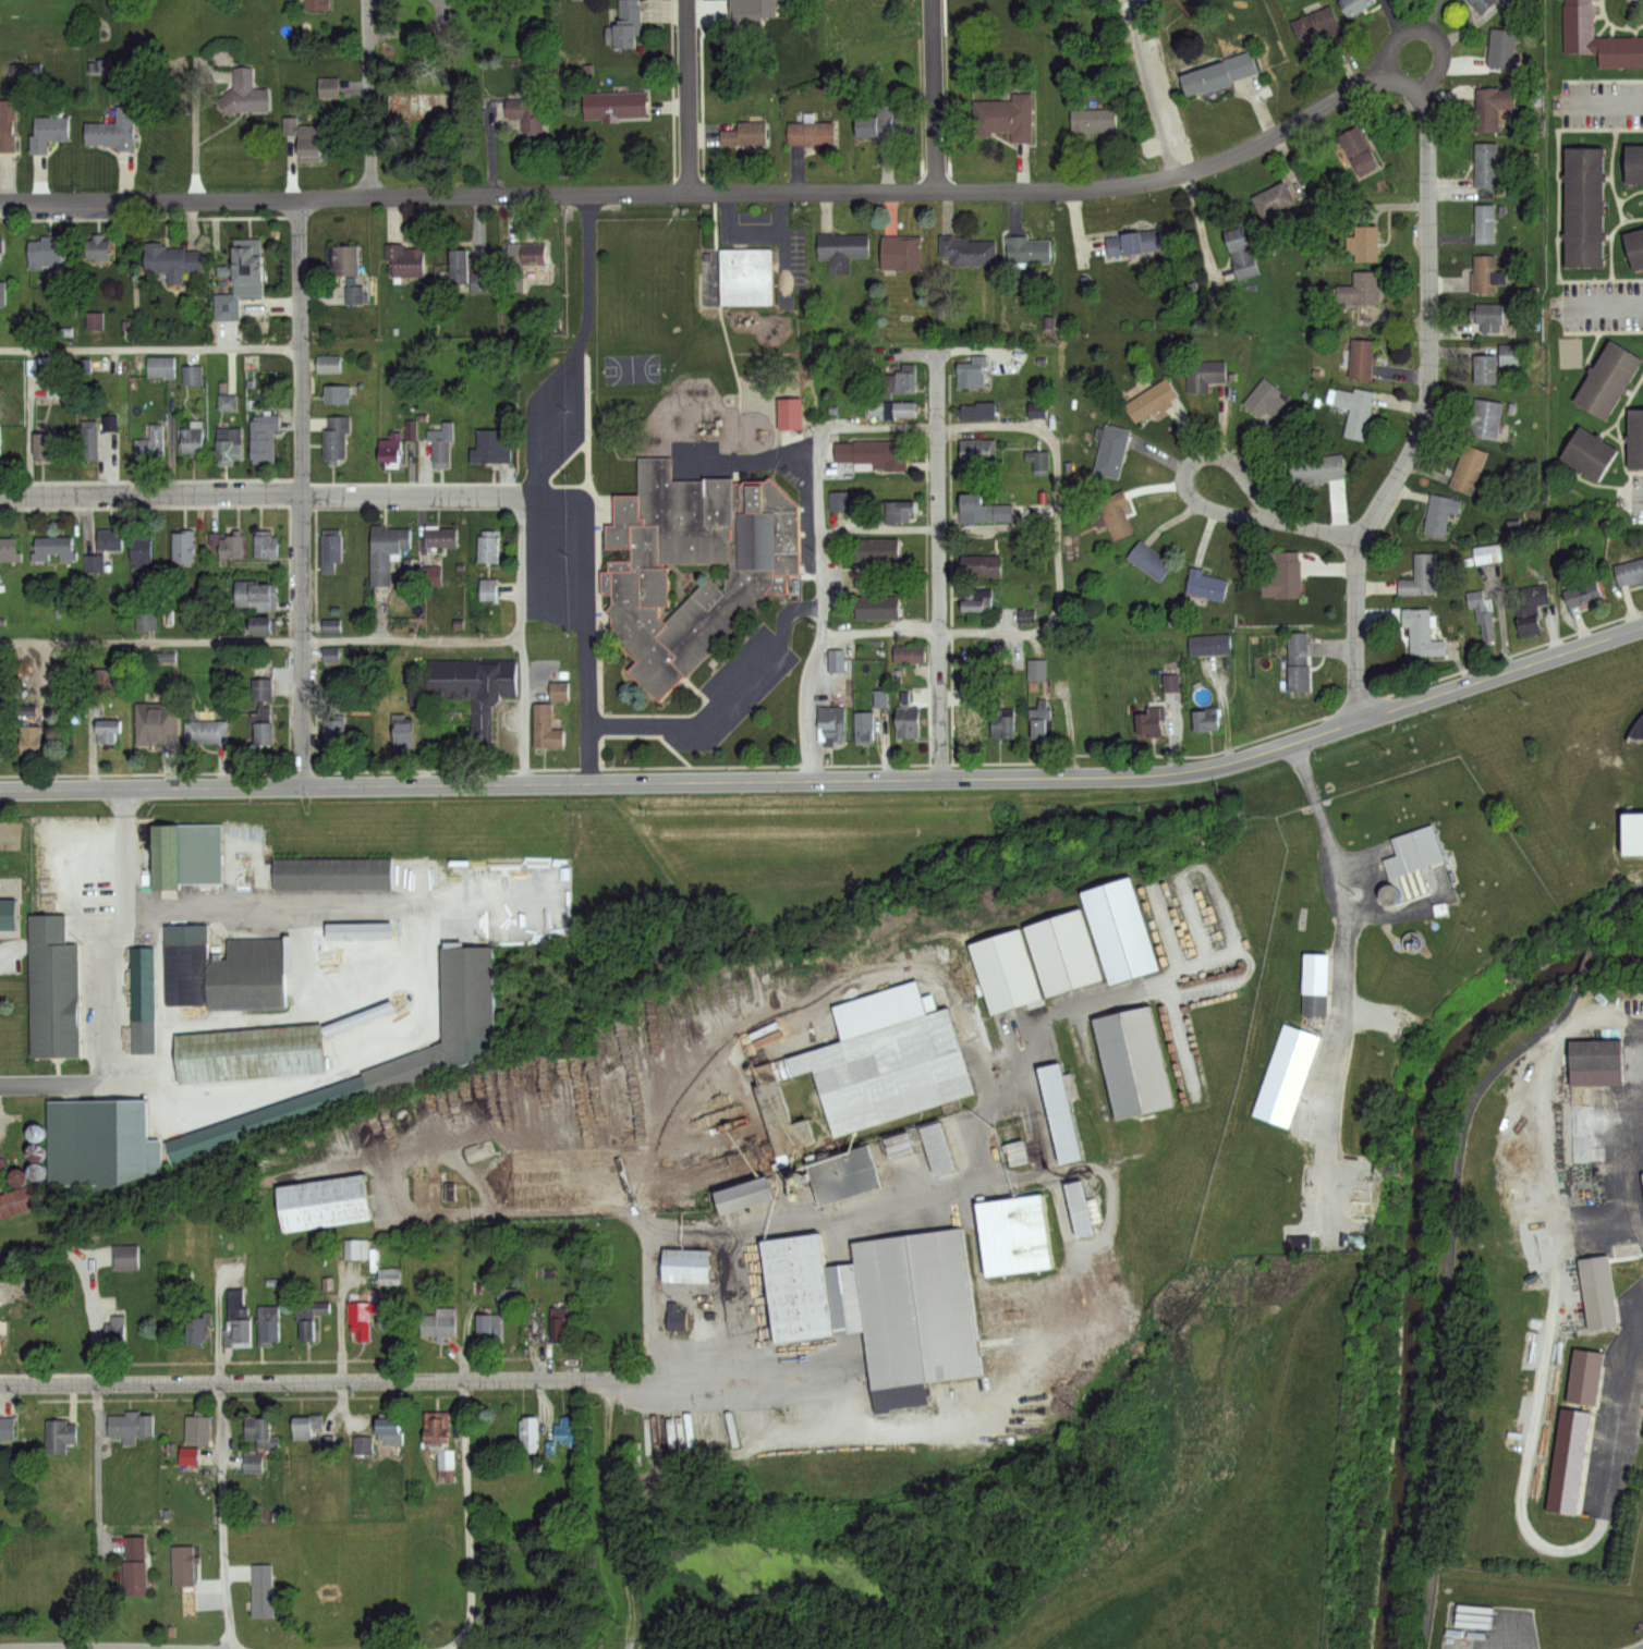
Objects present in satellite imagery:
building: (1483, 4)
building: (1355, 5)
building: (316, 7)
building: (752, 12)
road: (1629, 14)
building: (1317, 23)
building: (623, 24)
road: (1614, 25)
building: (1597, 38)
building: (1501, 47)
building: (1217, 74)
road: (1603, 80)
road: (1410, 85)
building: (326, 87)
building: (242, 93)
road: (933, 95)
road: (687, 96)
road: (369, 98)
building: (617, 103)
parking lot: (1603, 105)
road: (1607, 105)
building: (422, 106)
building: (1492, 106)
building: (530, 112)
building: (1007, 118)
building: (878, 122)
building: (1092, 122)
building: (7, 127)
building: (109, 129)
building: (810, 132)
building: (46, 133)
building: (745, 133)
building: (308, 142)
building: (1358, 150)
building: (1485, 163)
building: (1632, 166)
road: (1610, 176)
road: (708, 191)
road: (1629, 195)
building: (1271, 199)
road: (1558, 203)
building: (1581, 208)
building: (1484, 223)
road: (1610, 236)
building: (1133, 242)
building: (1364, 243)
building: (1, 244)
building: (97, 248)
building: (1026, 248)
building: (841, 249)
building: (1633, 249)
building: (969, 251)
building: (45, 252)
building: (1240, 252)
building: (900, 253)
building: (404, 258)
building: (341, 259)
building: (172, 260)
building: (523, 260)
building: (243, 267)
building: (1486, 272)
building: (470, 273)
building: (744, 279)
building: (1361, 289)
building: (2, 293)
building: (352, 294)
parking lot: (1603, 305)
road: (1607, 306)
building: (1487, 317)
building: (226, 330)
road: (1604, 331)
road: (151, 349)
road: (951, 351)
building: (1507, 354)
building: (1361, 358)
building: (328, 364)
building: (160, 366)
building: (1485, 368)
building: (972, 371)
building: (1204, 374)
building: (190, 375)
building: (904, 379)
building: (1604, 382)
building: (334, 393)
building: (1152, 400)
building: (1265, 400)
building: (903, 408)
building: (1034, 410)
building: (978, 411)
building: (1354, 411)
road: (1426, 411)
building: (790, 412)
building: (1485, 417)
building: (108, 422)
road: (972, 426)
road: (1617, 429)
building: (263, 438)
building: (334, 438)
building: (87, 439)
building: (190, 440)
building: (1634, 441)
building: (44, 442)
building: (229, 442)
building: (149, 445)
building: (439, 445)
building: (489, 448)
building: (1110, 450)
building: (390, 451)
building: (978, 452)
building: (874, 454)
building: (1585, 454)
road: (1200, 456)
building: (1038, 460)
building: (1468, 468)
building: (1316, 469)
road: (301, 492)
road: (273, 497)
parking lot: (1638, 498)
road: (547, 501)
building: (843, 501)
building: (896, 509)
building: (983, 509)
building: (1115, 514)
building: (1439, 514)
road: (937, 528)
road: (1315, 530)
building: (441, 536)
building: (108, 539)
building: (230, 545)
building: (264, 546)
building: (181, 548)
building: (8, 549)
building: (53, 549)
building: (139, 549)
building: (876, 549)
building: (386, 550)
building: (488, 550)
building: (330, 551)
building: (1487, 553)
building: (1147, 559)
building: (92, 562)
parking lot: (550, 564)
road: (939, 565)
building: (990, 566)
road: (548, 569)
building: (691, 569)
building: (1629, 572)
building: (428, 575)
building: (1281, 577)
building: (1419, 577)
building: (1206, 585)
building: (486, 589)
building: (1583, 593)
building: (256, 595)
building: (1534, 596)
building: (976, 603)
building: (877, 608)
building: (1483, 613)
road: (579, 615)
building: (1011, 619)
building: (144, 620)
road: (586, 622)
building: (256, 624)
building: (1529, 624)
building: (1422, 632)
road: (522, 638)
road: (260, 642)
building: (1210, 644)
building: (327, 654)
building: (910, 654)
building: (1298, 661)
building: (1036, 671)
building: (99, 679)
parking lot: (743, 682)
building: (1170, 682)
building: (261, 689)
building: (557, 691)
building: (467, 692)
building: (879, 698)
road: (722, 699)
building: (1040, 720)
building: (831, 721)
building: (906, 721)
building: (1205, 721)
building: (1636, 722)
building: (1146, 723)
building: (155, 724)
building: (261, 725)
building: (1002, 725)
building: (863, 728)
building: (973, 729)
building: (108, 730)
building: (546, 730)
building: (205, 732)
building: (332, 732)
building: (403, 733)
building: (29, 738)
road: (832, 779)
road: (1314, 802)
building: (1632, 826)
building: (1411, 852)
building: (4, 855)
building: (184, 855)
building: (332, 874)
building: (1384, 894)
road: (1615, 904)
building: (354, 929)
building: (1119, 931)
road: (11, 940)
building: (1062, 953)
road: (1585, 962)
building: (222, 968)
building: (1006, 974)
building: (1316, 986)
building: (53, 988)
building: (352, 991)
building: (141, 999)
building: (447, 1027)
building: (245, 1041)
building: (885, 1061)
building: (1132, 1062)
building: (1597, 1062)
building: (1287, 1075)
road: (58, 1084)
building: (1052, 1116)
building: (266, 1121)
building: (780, 1122)
building: (31, 1133)
building: (896, 1148)
building: (105, 1150)
building: (1013, 1152)
building: (842, 1175)
building: (1642, 1175)
building: (7, 1176)
building: (743, 1198)
building: (21, 1200)
building: (319, 1201)
building: (1078, 1208)
road: (780, 1219)
wastewater plant: (1281, 1232)
river: (1419, 1236)
building: (1013, 1239)
building: (358, 1250)
building: (125, 1257)
road: (645, 1262)
building: (685, 1268)
building: (387, 1277)
building: (1592, 1292)
road: (1444, 1296)
building: (506, 1298)
building: (880, 1306)
building: (308, 1317)
building: (674, 1318)
building: (361, 1319)
building: (238, 1321)
building: (267, 1323)
road: (340, 1323)
building: (559, 1323)
building: (440, 1324)
building: (4, 1327)
building: (488, 1328)
building: (196, 1329)
building: (607, 1329)
building: (112, 1334)
building: (0, 1336)
building: (1581, 1377)
road: (691, 1379)
road: (321, 1382)
road: (873, 1422)
building: (130, 1426)
building: (304, 1426)
building: (8, 1429)
building: (196, 1429)
building: (388, 1432)
building: (565, 1432)
building: (527, 1436)
building: (59, 1437)
building: (261, 1437)
building: (439, 1444)
building: (361, 1445)
building: (185, 1456)
building: (1569, 1459)
building: (252, 1464)
road: (100, 1469)
road: (612, 1515)
road: (221, 1516)
road: (467, 1517)
building: (177, 1564)
building: (133, 1567)
building: (261, 1588)
road: (117, 1647)
road: (94, 1648)
road: (1641, 1648)

